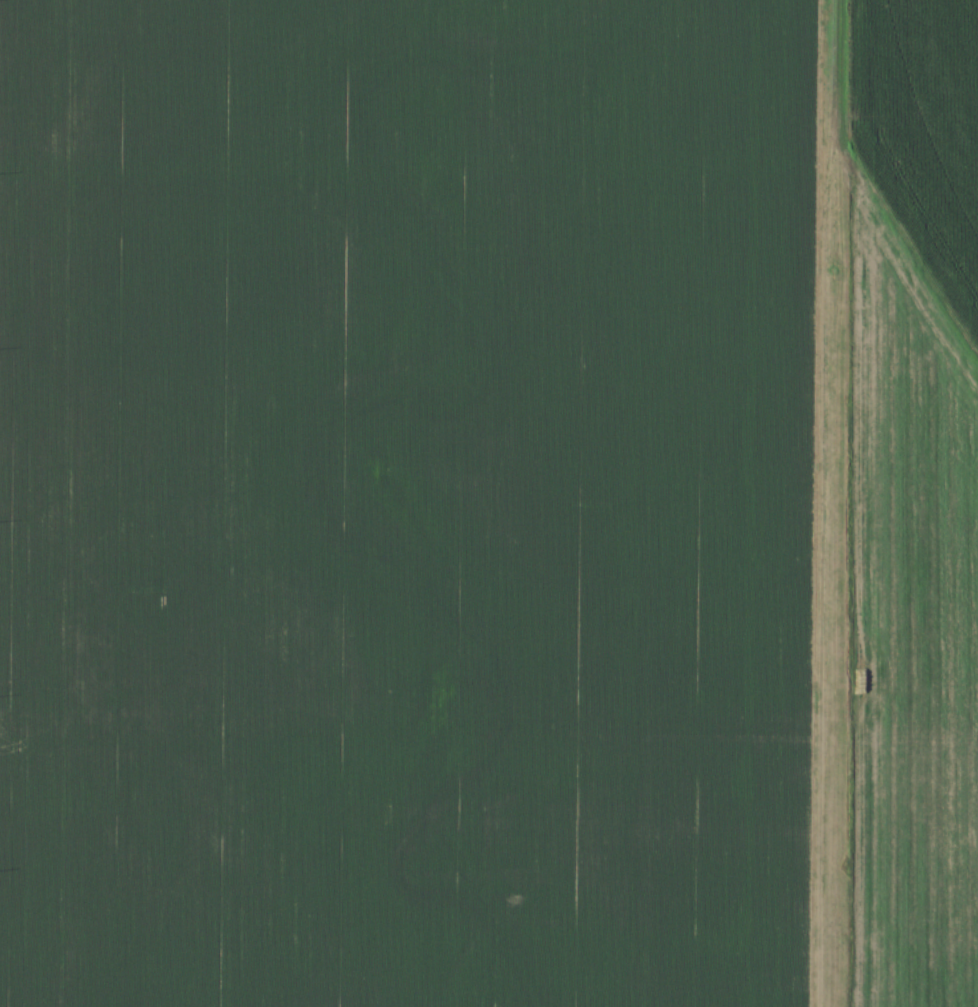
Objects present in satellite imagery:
crop: (406, 502)

